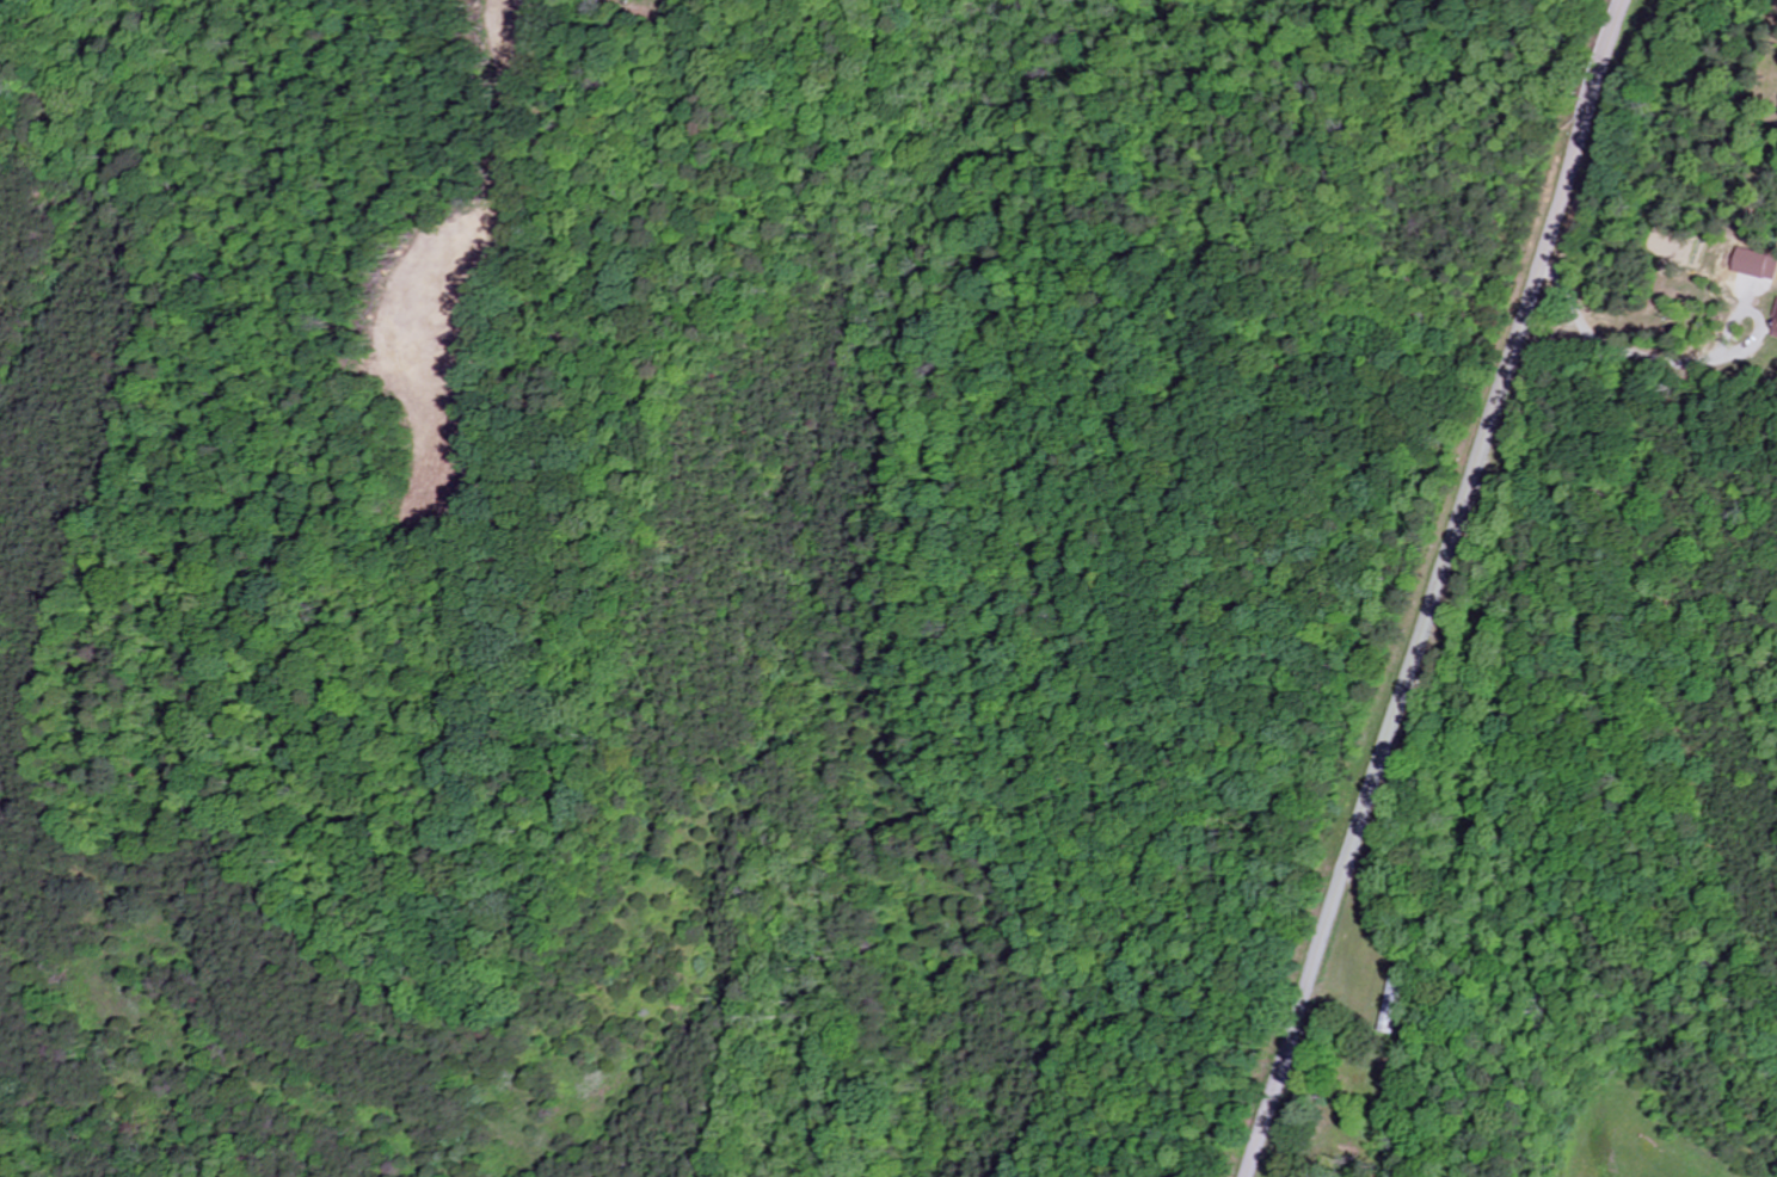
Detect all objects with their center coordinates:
building: (1775, 327)
road: (1635, 355)
road: (1434, 587)

